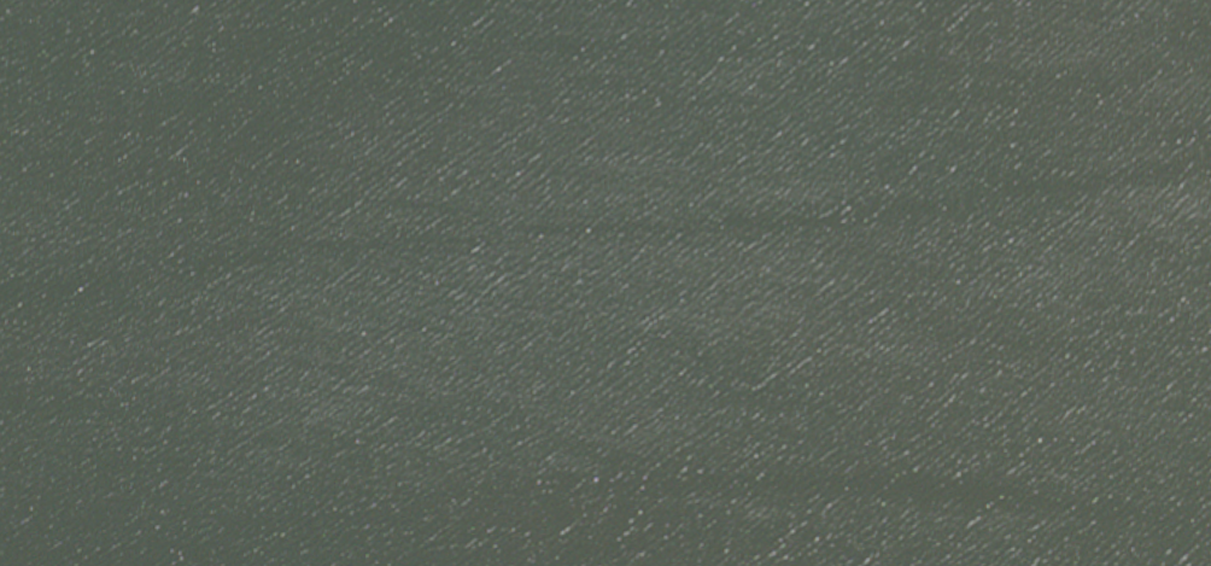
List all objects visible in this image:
river: (848, 282)

